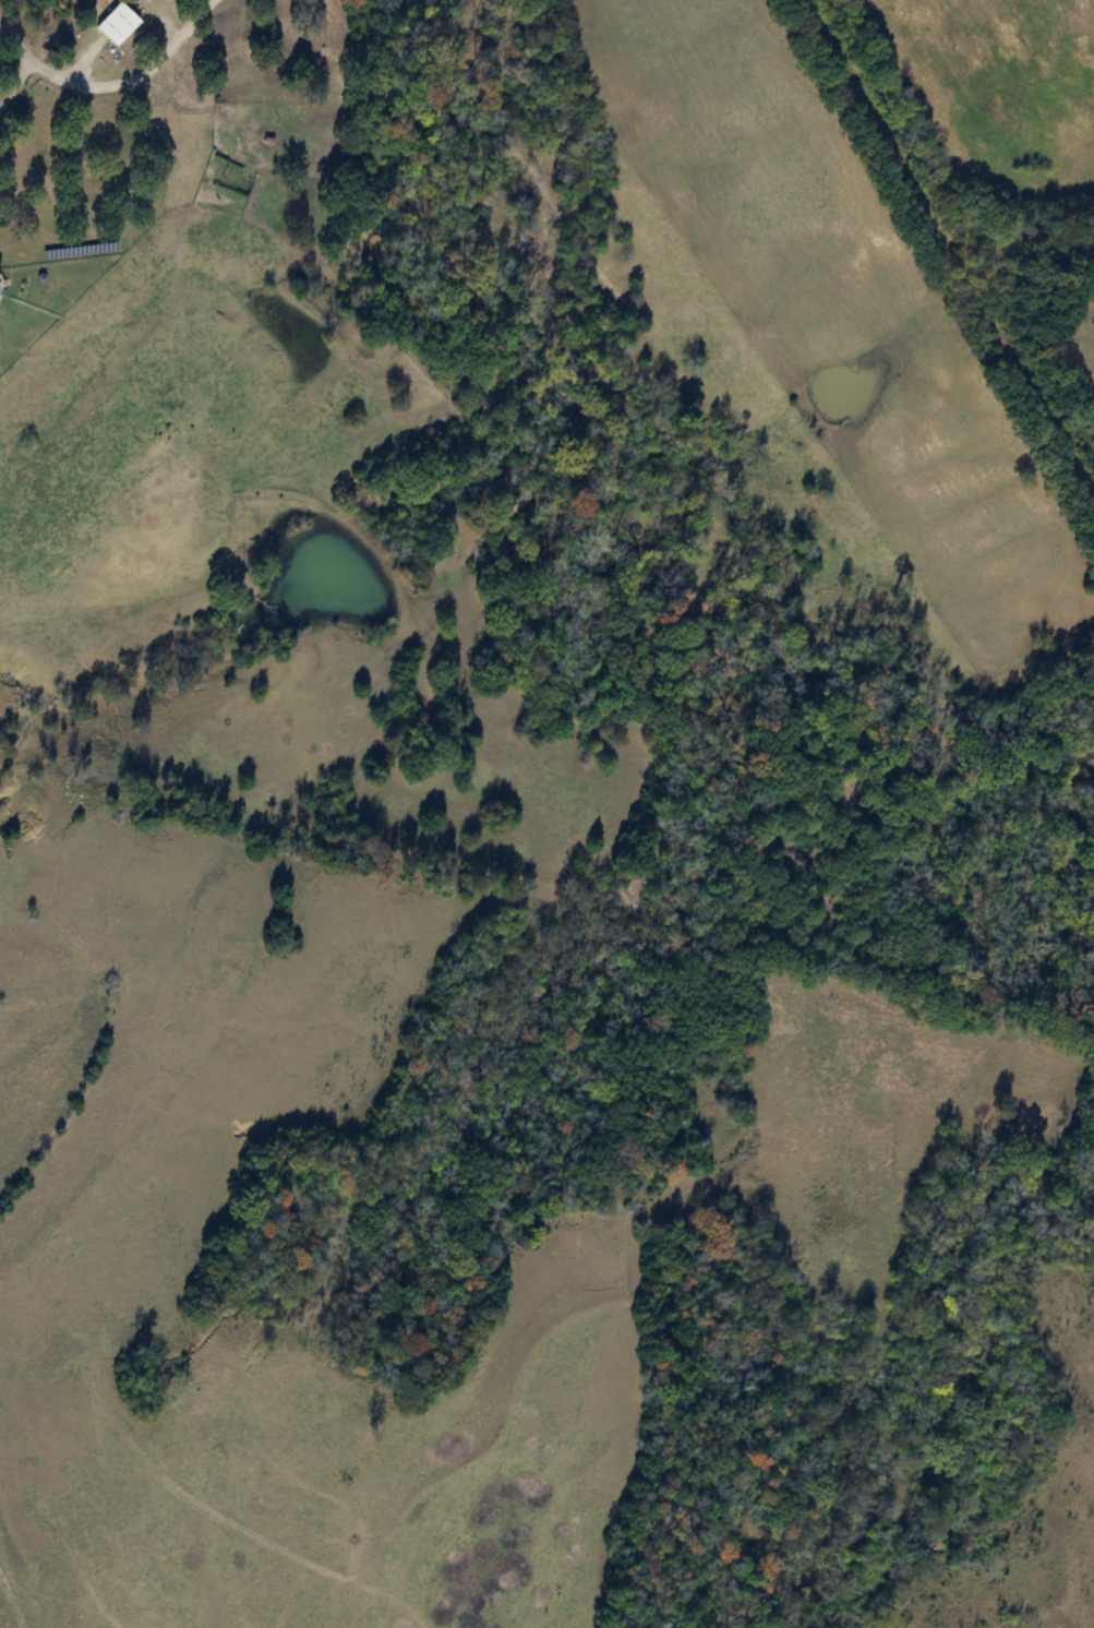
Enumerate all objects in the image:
building: (116, 22)
road: (113, 86)
road: (19, 92)
railway: (949, 244)

